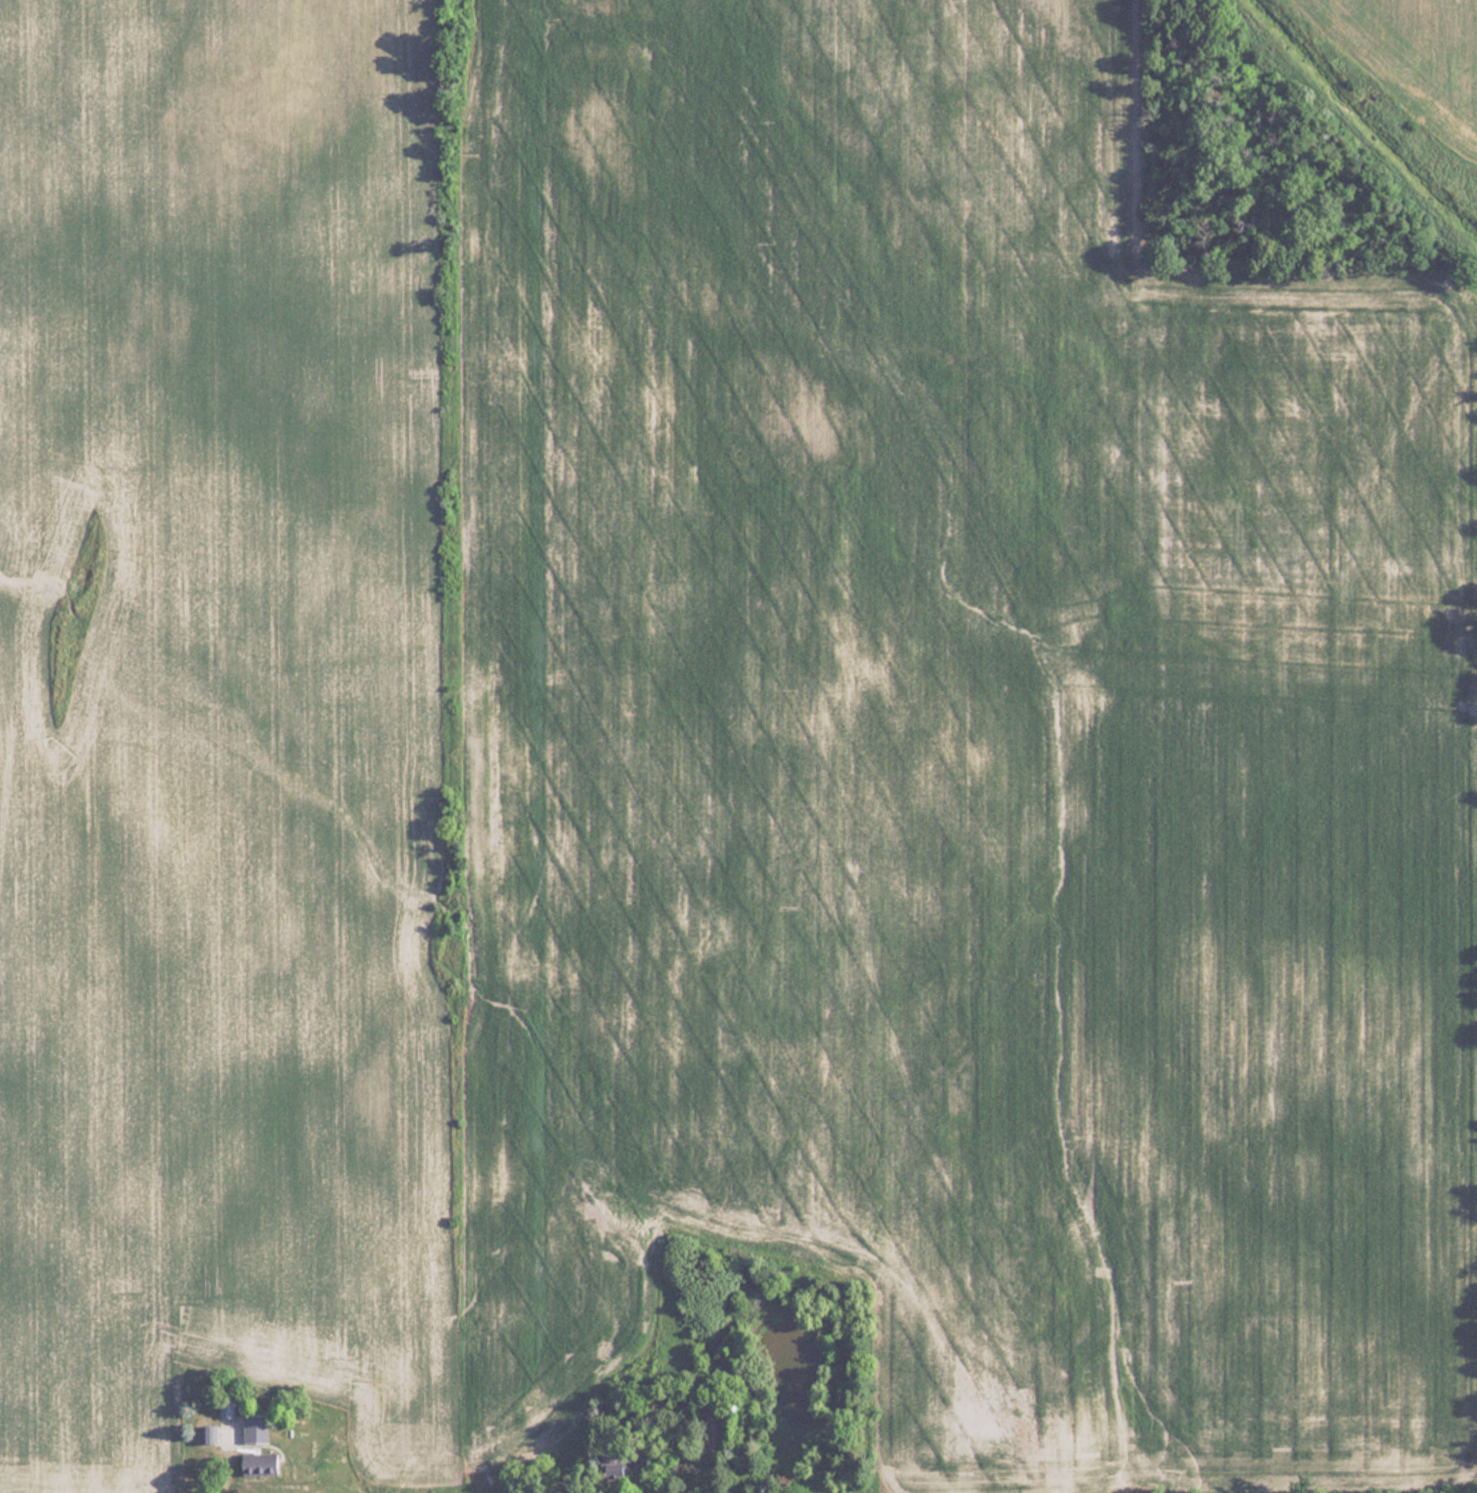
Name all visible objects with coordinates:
building: (226, 1406)
building: (256, 1426)
building: (711, 1426)
building: (211, 1432)
building: (260, 1462)
building: (615, 1463)

